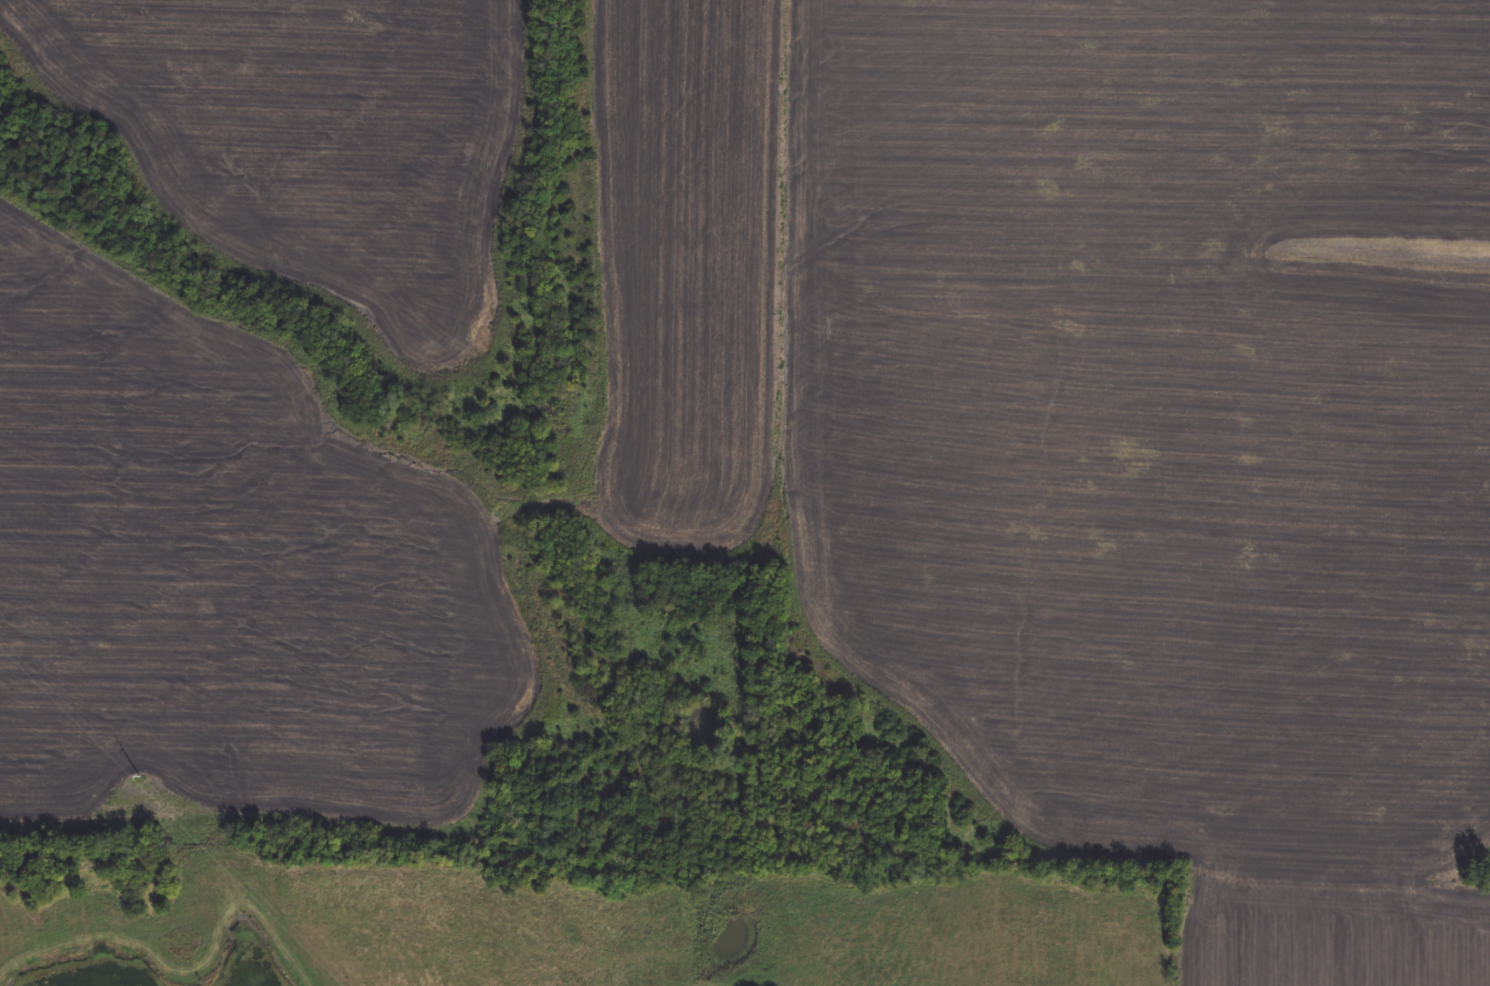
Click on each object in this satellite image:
road: (766, 424)
power tower: (141, 779)

